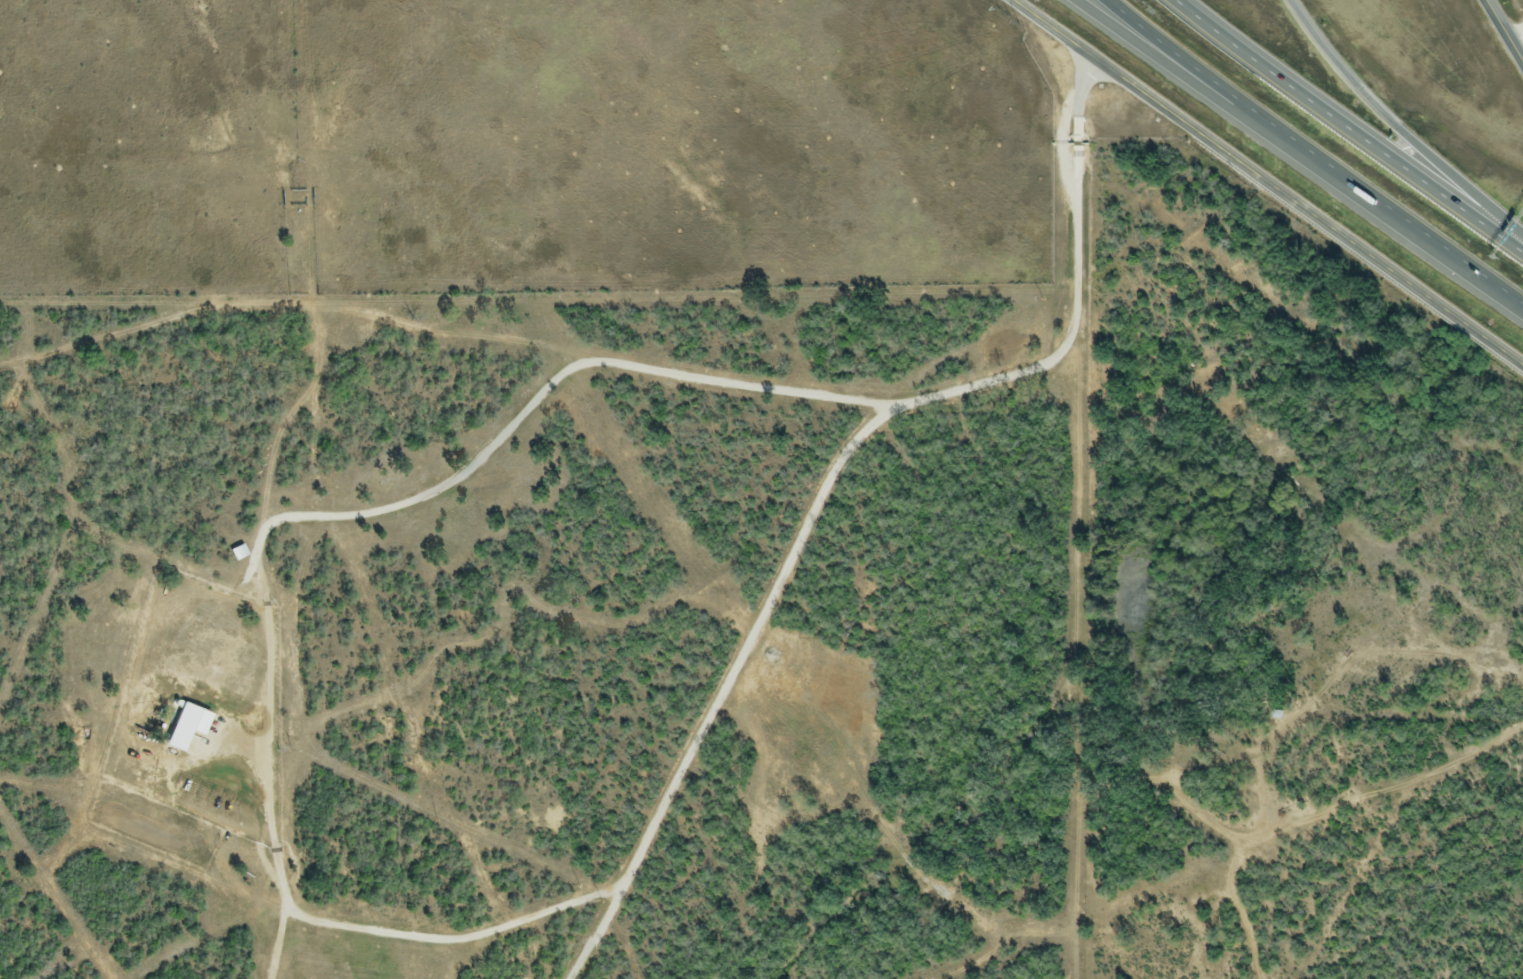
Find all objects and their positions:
road: (1505, 30)
road: (1520, 49)
road: (1163, 55)
road: (1176, 55)
road: (1350, 123)
road: (1400, 128)
road: (1267, 181)
road: (1381, 208)
road: (837, 482)

